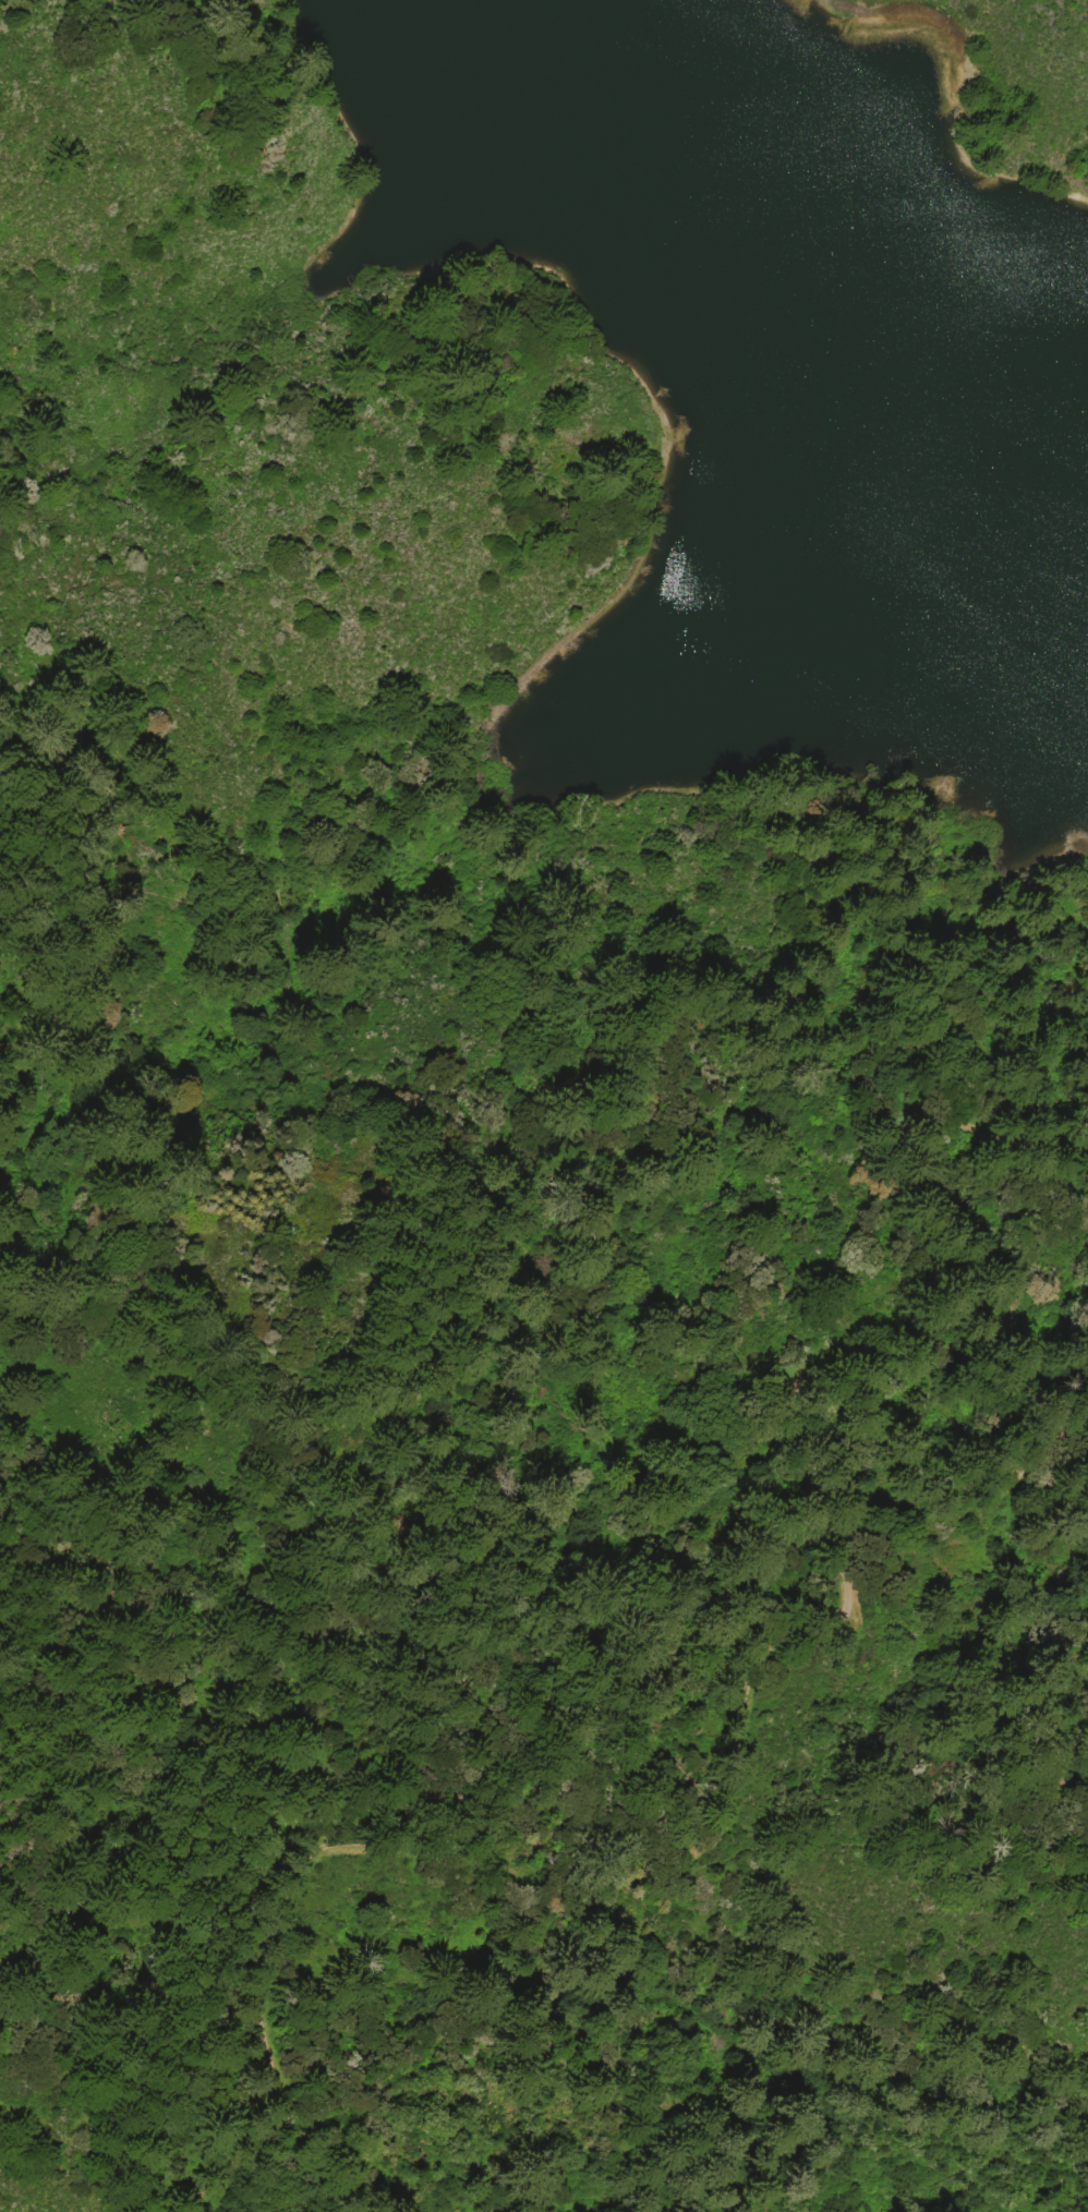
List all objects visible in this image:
road: (831, 1590)

